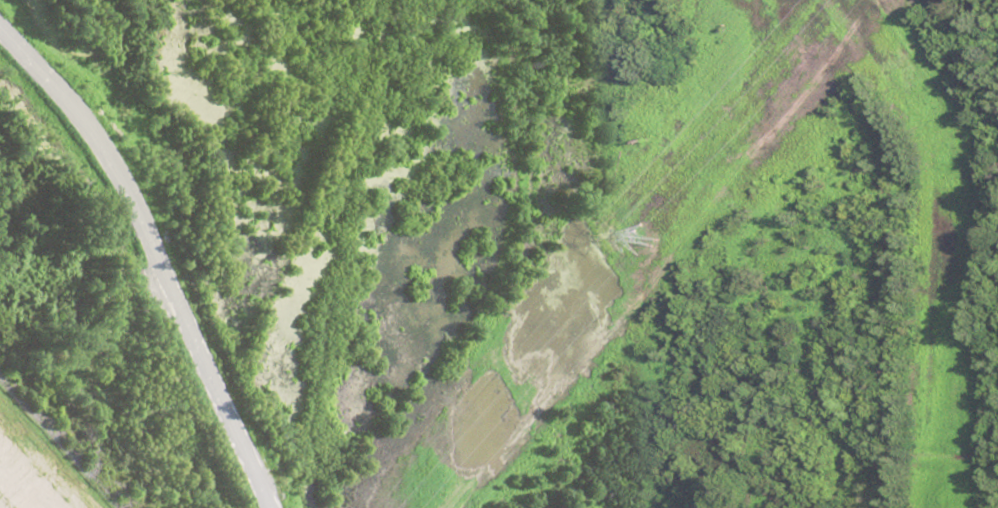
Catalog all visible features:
power tower: (645, 236)

